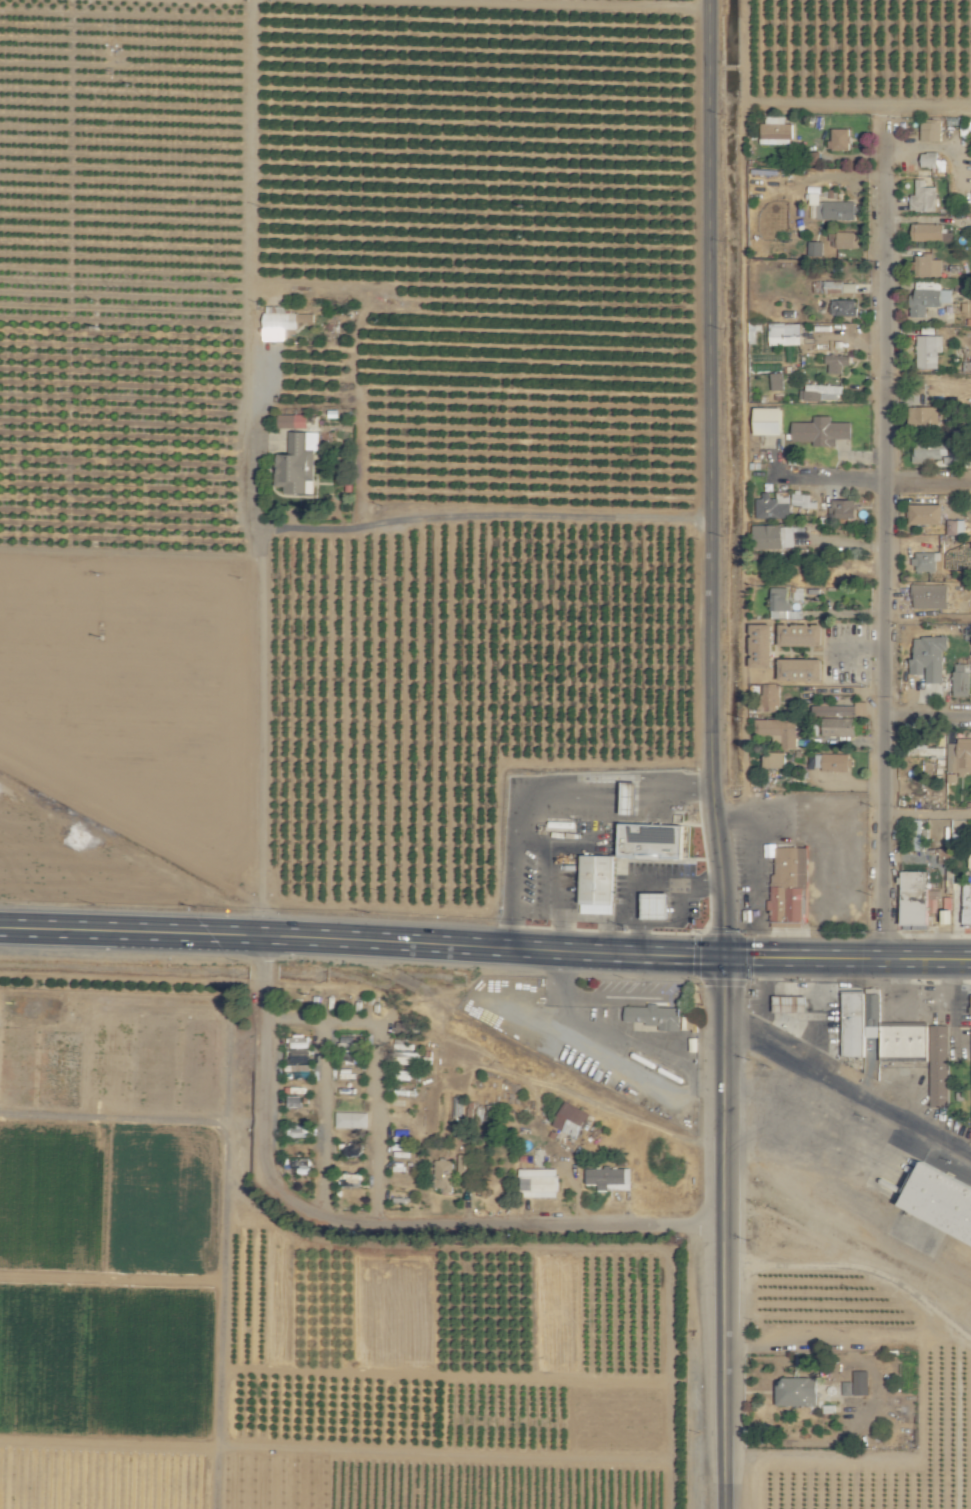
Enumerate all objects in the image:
building: (963, 126)
building: (776, 131)
building: (931, 131)
building: (841, 140)
building: (814, 158)
building: (928, 160)
building: (923, 198)
building: (831, 209)
building: (930, 233)
building: (833, 240)
building: (846, 240)
building: (928, 266)
building: (834, 287)
building: (928, 298)
building: (843, 307)
building: (282, 323)
building: (778, 335)
building: (928, 351)
building: (765, 362)
building: (837, 363)
building: (967, 367)
building: (777, 381)
building: (821, 393)
building: (924, 420)
building: (294, 421)
building: (768, 421)
building: (821, 432)
building: (931, 451)
building: (298, 465)
road: (709, 478)
road: (819, 478)
road: (928, 480)
building: (801, 500)
building: (773, 506)
building: (843, 509)
building: (927, 515)
building: (956, 527)
road: (286, 531)
building: (772, 537)
road: (886, 537)
building: (926, 562)
building: (931, 596)
building: (782, 604)
building: (802, 634)
building: (763, 645)
building: (930, 657)
building: (802, 669)
building: (962, 679)
building: (770, 697)
road: (929, 715)
building: (834, 718)
building: (779, 730)
crop: (373, 735)
building: (926, 750)
building: (775, 759)
building: (958, 759)
building: (831, 761)
road: (674, 789)
building: (632, 794)
road: (632, 795)
road: (928, 813)
road: (516, 827)
building: (916, 834)
building: (958, 839)
building: (653, 840)
building: (969, 860)
road: (555, 880)
road: (643, 883)
building: (598, 884)
building: (789, 885)
building: (914, 897)
building: (967, 902)
building: (658, 905)
road: (580, 918)
road: (604, 920)
road: (361, 941)
road: (259, 951)
traffic signals: (723, 957)
road: (846, 958)
road: (260, 976)
building: (656, 1017)
building: (898, 1041)
building: (347, 1053)
building: (412, 1058)
road: (321, 1090)
road: (723, 1091)
road: (847, 1092)
road: (262, 1098)
building: (351, 1120)
building: (572, 1120)
building: (297, 1131)
building: (464, 1163)
building: (444, 1175)
building: (610, 1178)
building: (349, 1181)
building: (538, 1183)
building: (939, 1208)
road: (502, 1224)
road: (785, 1342)
road: (723, 1354)
building: (862, 1386)
building: (847, 1388)
building: (797, 1392)
road: (723, 1496)

